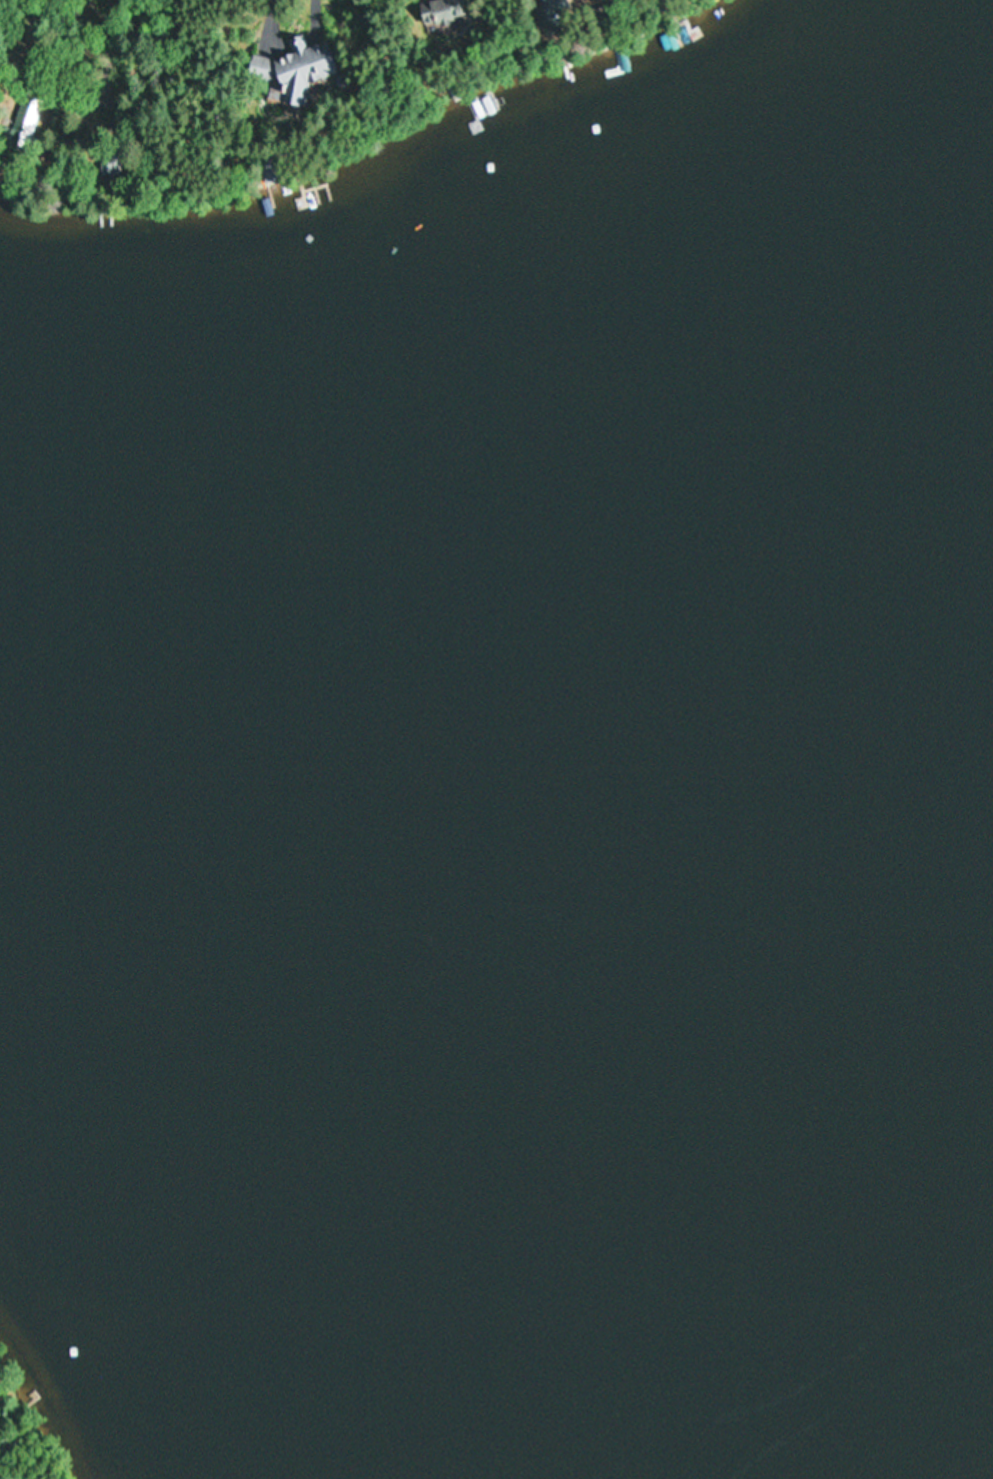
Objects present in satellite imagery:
building: (432, 6)
road: (57, 30)
building: (288, 71)
building: (24, 114)

